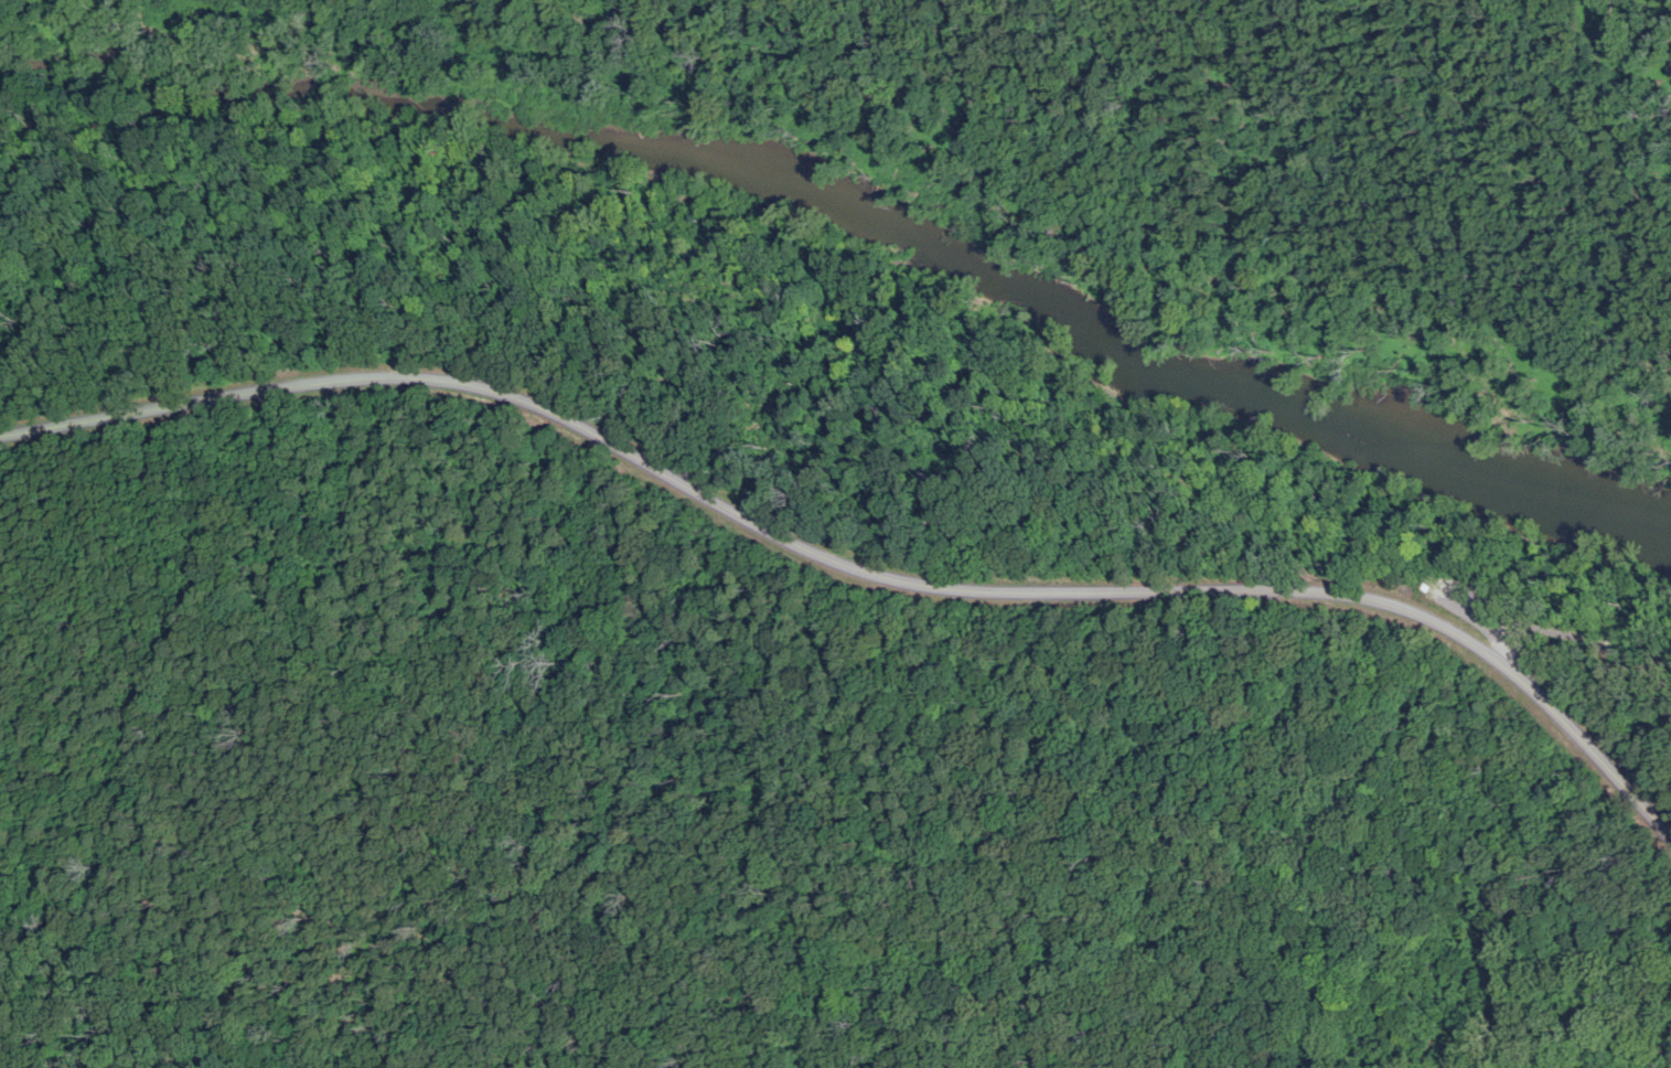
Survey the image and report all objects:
road: (858, 567)
road: (1321, 829)

